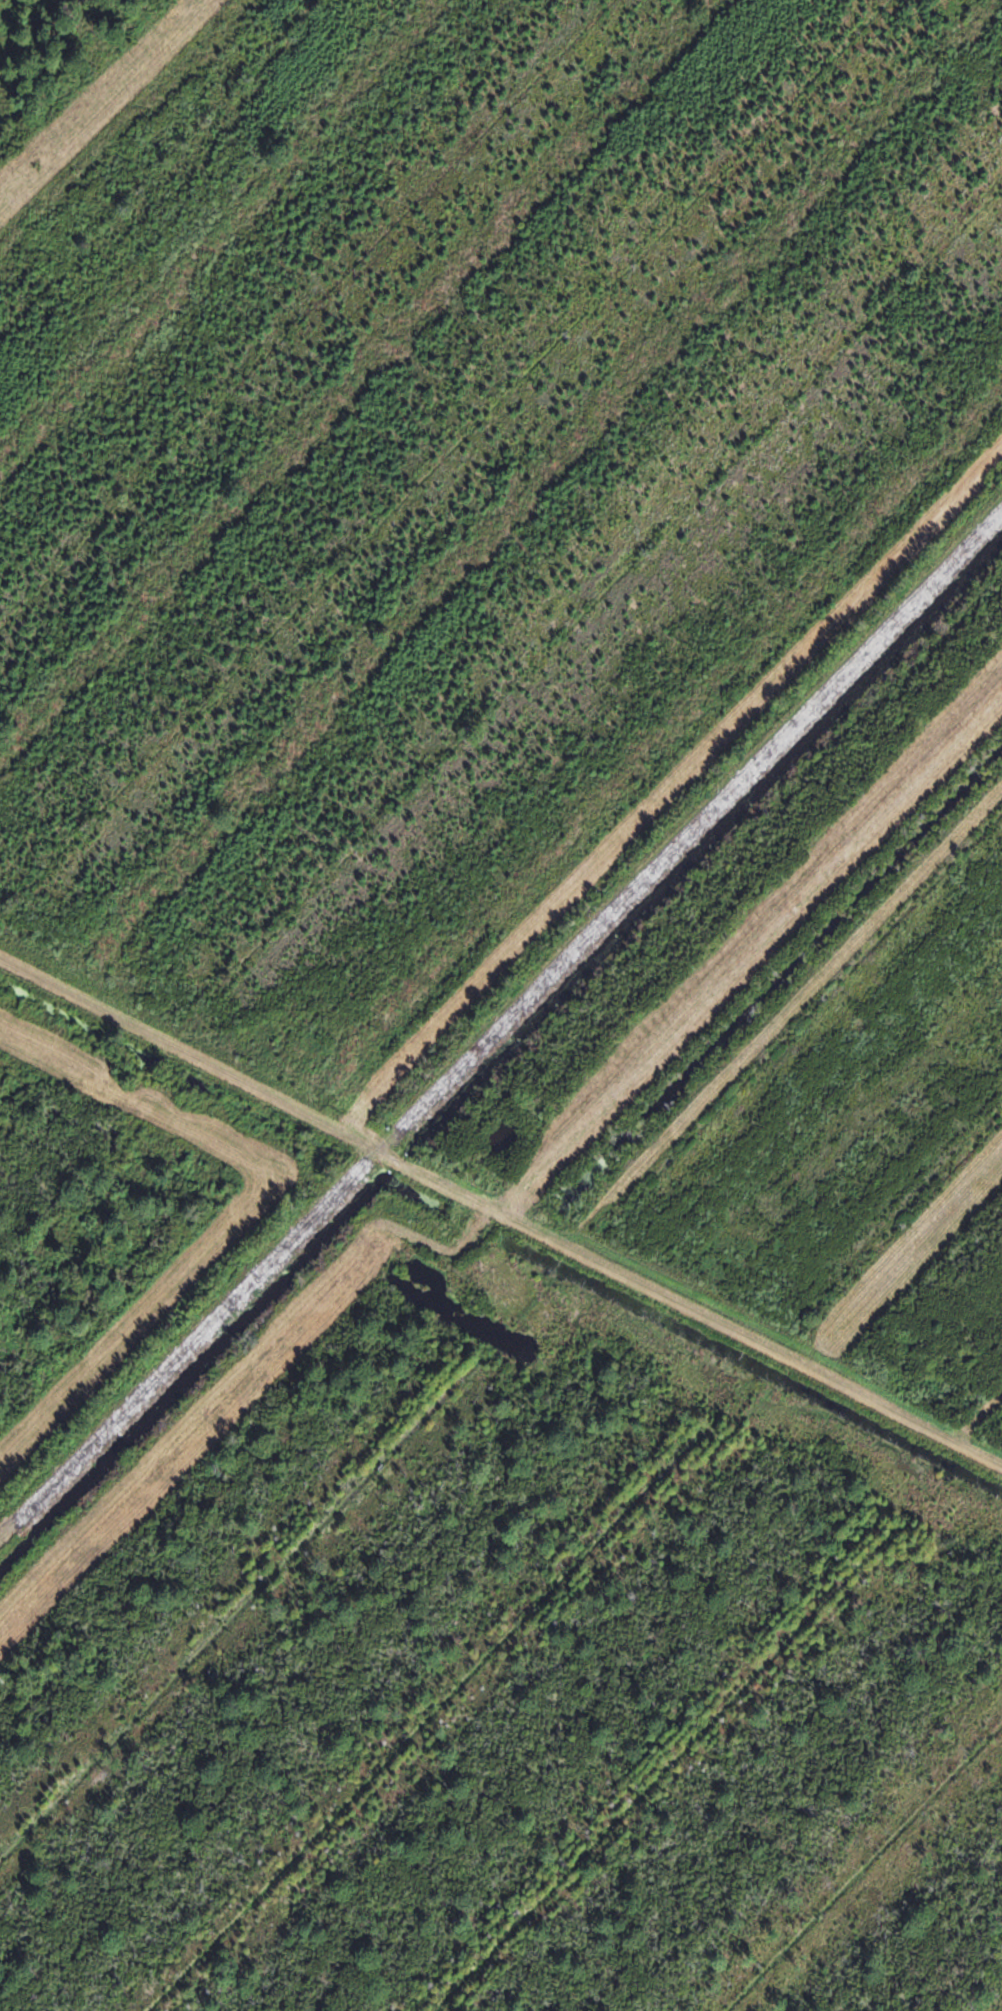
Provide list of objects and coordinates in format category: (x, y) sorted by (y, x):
road: (500, 1010)
road: (501, 1198)

